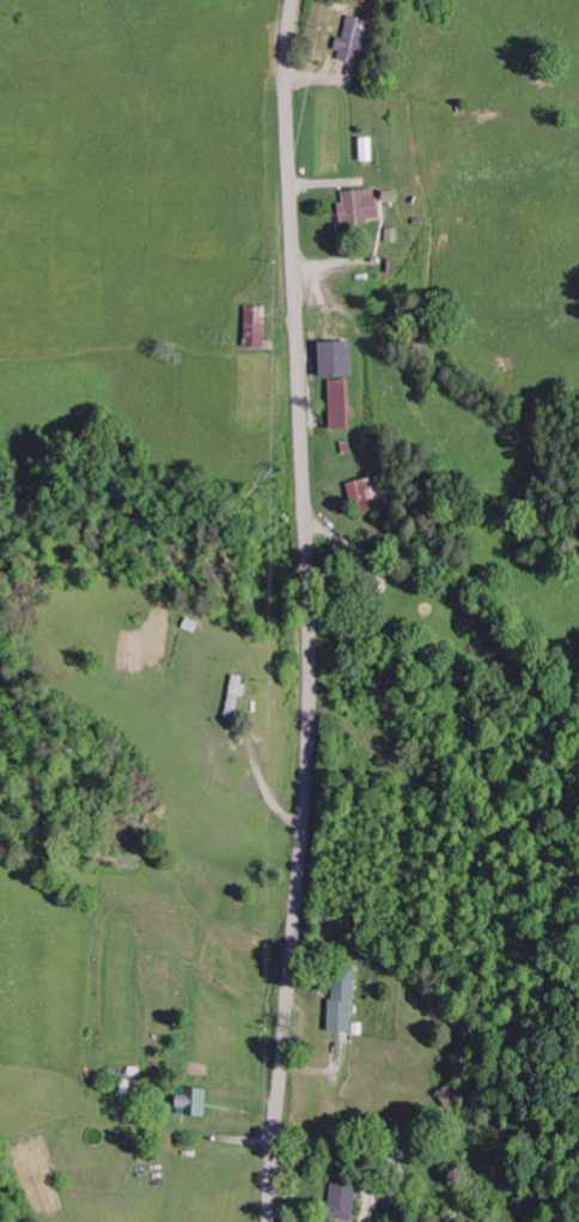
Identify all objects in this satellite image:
building: (355, 40)
building: (370, 150)
building: (361, 207)
building: (258, 326)
building: (342, 361)
building: (345, 416)
building: (371, 495)
road: (310, 611)
building: (345, 1009)

